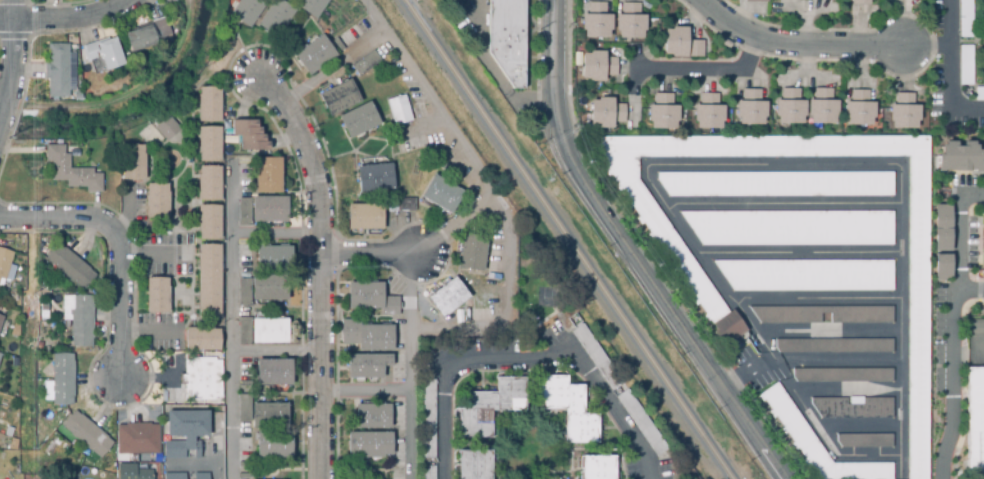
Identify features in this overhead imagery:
building: (982, 1)
building: (758, 2)
building: (860, 3)
power tower: (27, 4)
building: (311, 7)
building: (248, 11)
building: (276, 18)
building: (965, 18)
road: (74, 22)
road: (6, 23)
building: (598, 23)
building: (632, 23)
building: (146, 36)
building: (347, 38)
building: (508, 45)
building: (679, 45)
road: (818, 45)
building: (314, 55)
building: (103, 56)
road: (8, 58)
road: (331, 64)
building: (366, 64)
building: (966, 66)
building: (983, 67)
building: (599, 68)
road: (706, 70)
building: (57, 71)
road: (949, 71)
building: (979, 94)
power tower: (29, 95)
building: (339, 98)
building: (209, 105)
road: (1, 106)
building: (787, 108)
building: (823, 108)
building: (400, 109)
building: (753, 110)
building: (861, 111)
building: (902, 111)
building: (665, 114)
building: (607, 115)
building: (710, 115)
building: (359, 120)
building: (167, 129)
road: (454, 133)
power tower: (7, 136)
building: (248, 136)
building: (209, 145)
building: (412, 145)
building: (957, 157)
building: (132, 163)
road: (838, 165)
building: (455, 169)
building: (71, 172)
building: (244, 173)
building: (267, 176)
building: (375, 179)
building: (209, 185)
building: (780, 185)
building: (441, 195)
power tower: (30, 198)
building: (157, 202)
building: (402, 205)
road: (786, 205)
building: (269, 210)
building: (244, 213)
building: (365, 217)
building: (209, 224)
building: (792, 229)
building: (937, 230)
road: (274, 232)
railway: (568, 239)
building: (668, 241)
building: (980, 241)
road: (120, 245)
road: (368, 251)
building: (472, 253)
road: (630, 253)
building: (244, 254)
road: (803, 256)
building: (274, 260)
building: (4, 263)
building: (495, 265)
building: (71, 267)
building: (937, 268)
road: (320, 269)
building: (808, 276)
building: (209, 282)
power tower: (30, 288)
building: (269, 288)
building: (244, 293)
road: (972, 293)
building: (157, 296)
building: (365, 296)
building: (447, 297)
road: (818, 303)
building: (980, 308)
building: (1, 316)
building: (788, 319)
road: (946, 319)
building: (79, 320)
road: (230, 320)
building: (1, 321)
building: (725, 328)
building: (269, 331)
building: (244, 332)
road: (753, 332)
road: (828, 334)
building: (374, 338)
building: (202, 340)
building: (835, 347)
road: (275, 350)
building: (0, 356)
road: (524, 357)
road: (837, 360)
building: (168, 362)
road: (407, 362)
parking lot: (749, 365)
building: (365, 367)
building: (398, 370)
building: (274, 372)
building: (245, 373)
building: (843, 376)
building: (63, 380)
building: (202, 380)
building: (620, 391)
road: (848, 392)
building: (168, 396)
building: (490, 407)
building: (244, 408)
building: (567, 408)
building: (853, 409)
building: (398, 412)
road: (806, 413)
building: (269, 416)
building: (373, 417)
building: (429, 420)
building: (972, 420)
road: (860, 427)
building: (7, 431)
building: (185, 433)
building: (87, 435)
building: (137, 439)
building: (865, 442)
building: (815, 443)
building: (365, 445)
building: (273, 446)
power tower: (27, 448)
road: (211, 448)
building: (245, 453)
building: (398, 454)
building: (474, 465)
road: (901, 467)
building: (597, 468)
building: (428, 472)
building: (133, 473)
building: (175, 476)
building: (201, 476)
building: (243, 476)
building: (398, 476)
building: (55, 478)

